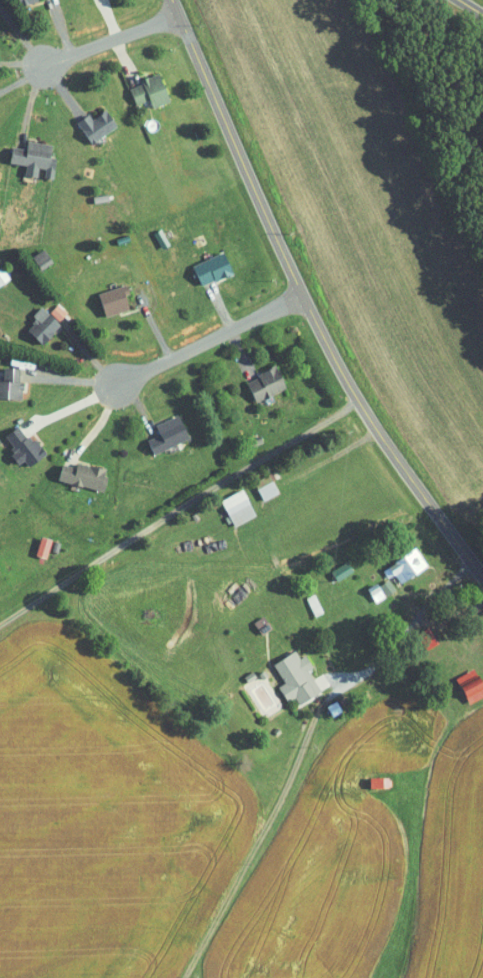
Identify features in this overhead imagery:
building: (17, 0)
building: (30, 1)
road: (471, 7)
road: (109, 18)
road: (60, 27)
road: (110, 39)
road: (124, 61)
road: (21, 63)
road: (40, 70)
road: (21, 78)
road: (63, 90)
building: (153, 91)
building: (98, 127)
building: (36, 158)
building: (3, 176)
building: (208, 268)
building: (2, 276)
road: (228, 290)
building: (109, 300)
road: (304, 301)
building: (38, 325)
road: (137, 329)
road: (199, 342)
road: (67, 352)
road: (249, 355)
building: (9, 383)
road: (55, 384)
building: (260, 384)
road: (160, 397)
road: (50, 422)
road: (95, 428)
building: (163, 435)
building: (20, 445)
building: (79, 475)
building: (264, 490)
building: (234, 507)
road: (178, 512)
building: (38, 545)
building: (401, 564)
road: (439, 573)
building: (384, 586)
building: (373, 592)
road: (391, 635)
road: (385, 657)
building: (292, 676)
building: (466, 685)
building: (374, 781)

